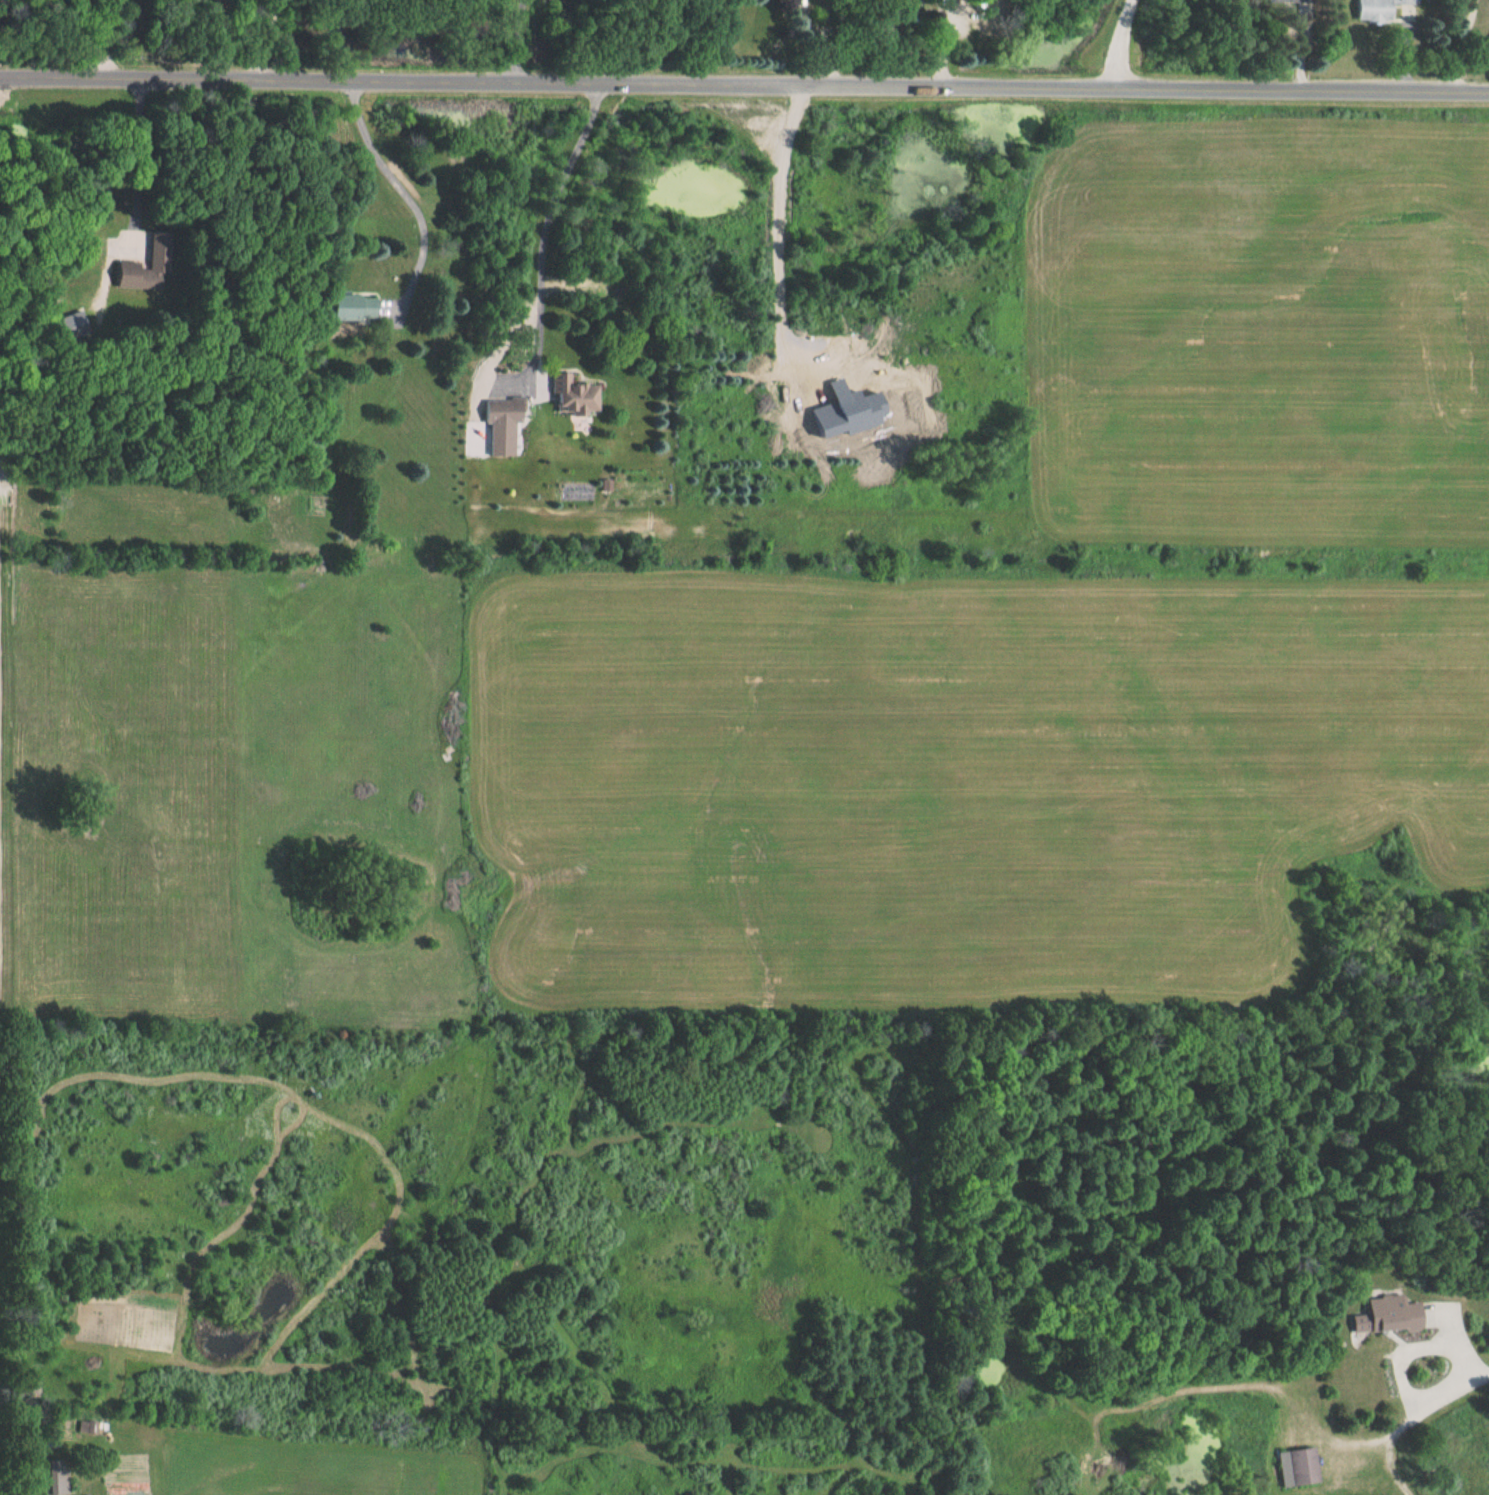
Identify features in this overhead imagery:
building: (1273, 1)
building: (1369, 10)
road: (516, 39)
road: (1111, 42)
road: (1459, 45)
road: (744, 80)
road: (136, 158)
road: (405, 190)
road: (544, 225)
building: (153, 261)
building: (366, 304)
building: (583, 393)
building: (511, 409)
building: (1375, 1316)
road: (1399, 1365)
road: (1485, 1368)
building: (1292, 1467)
building: (65, 1476)

